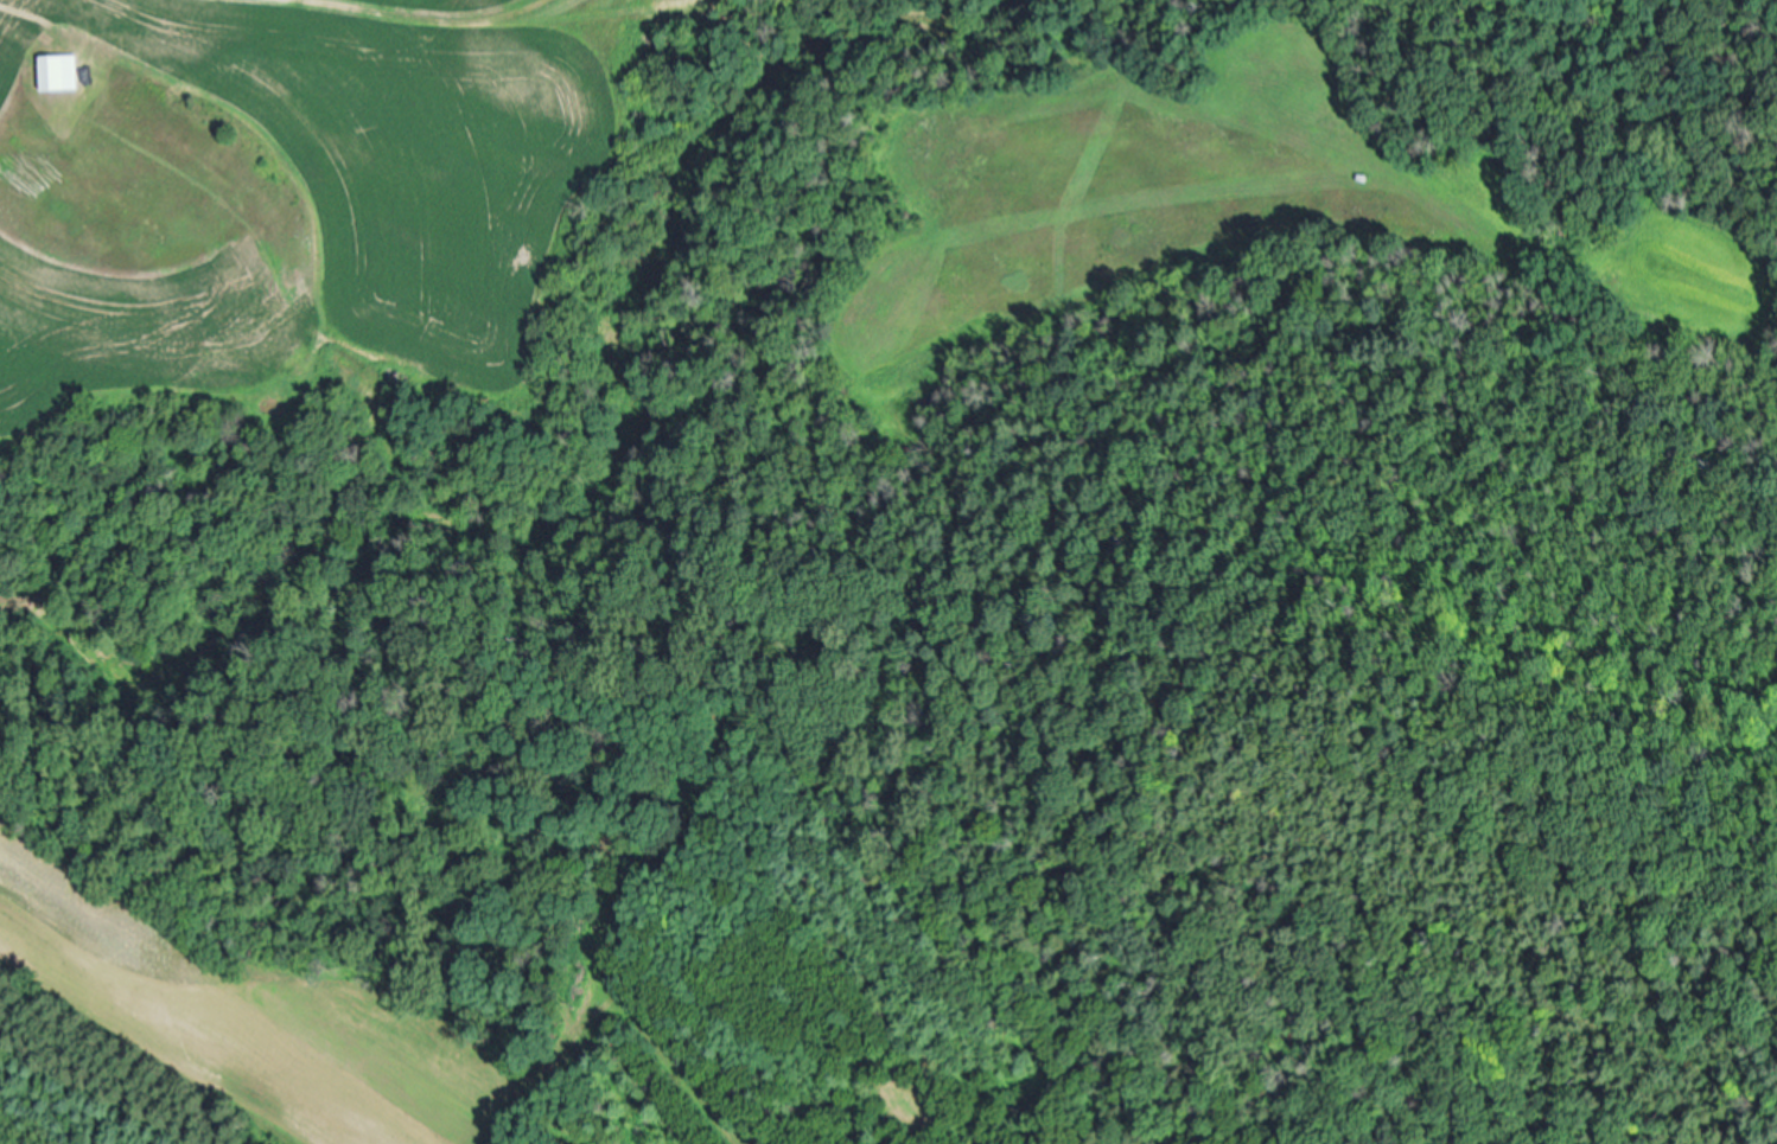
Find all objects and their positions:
building: (58, 70)

